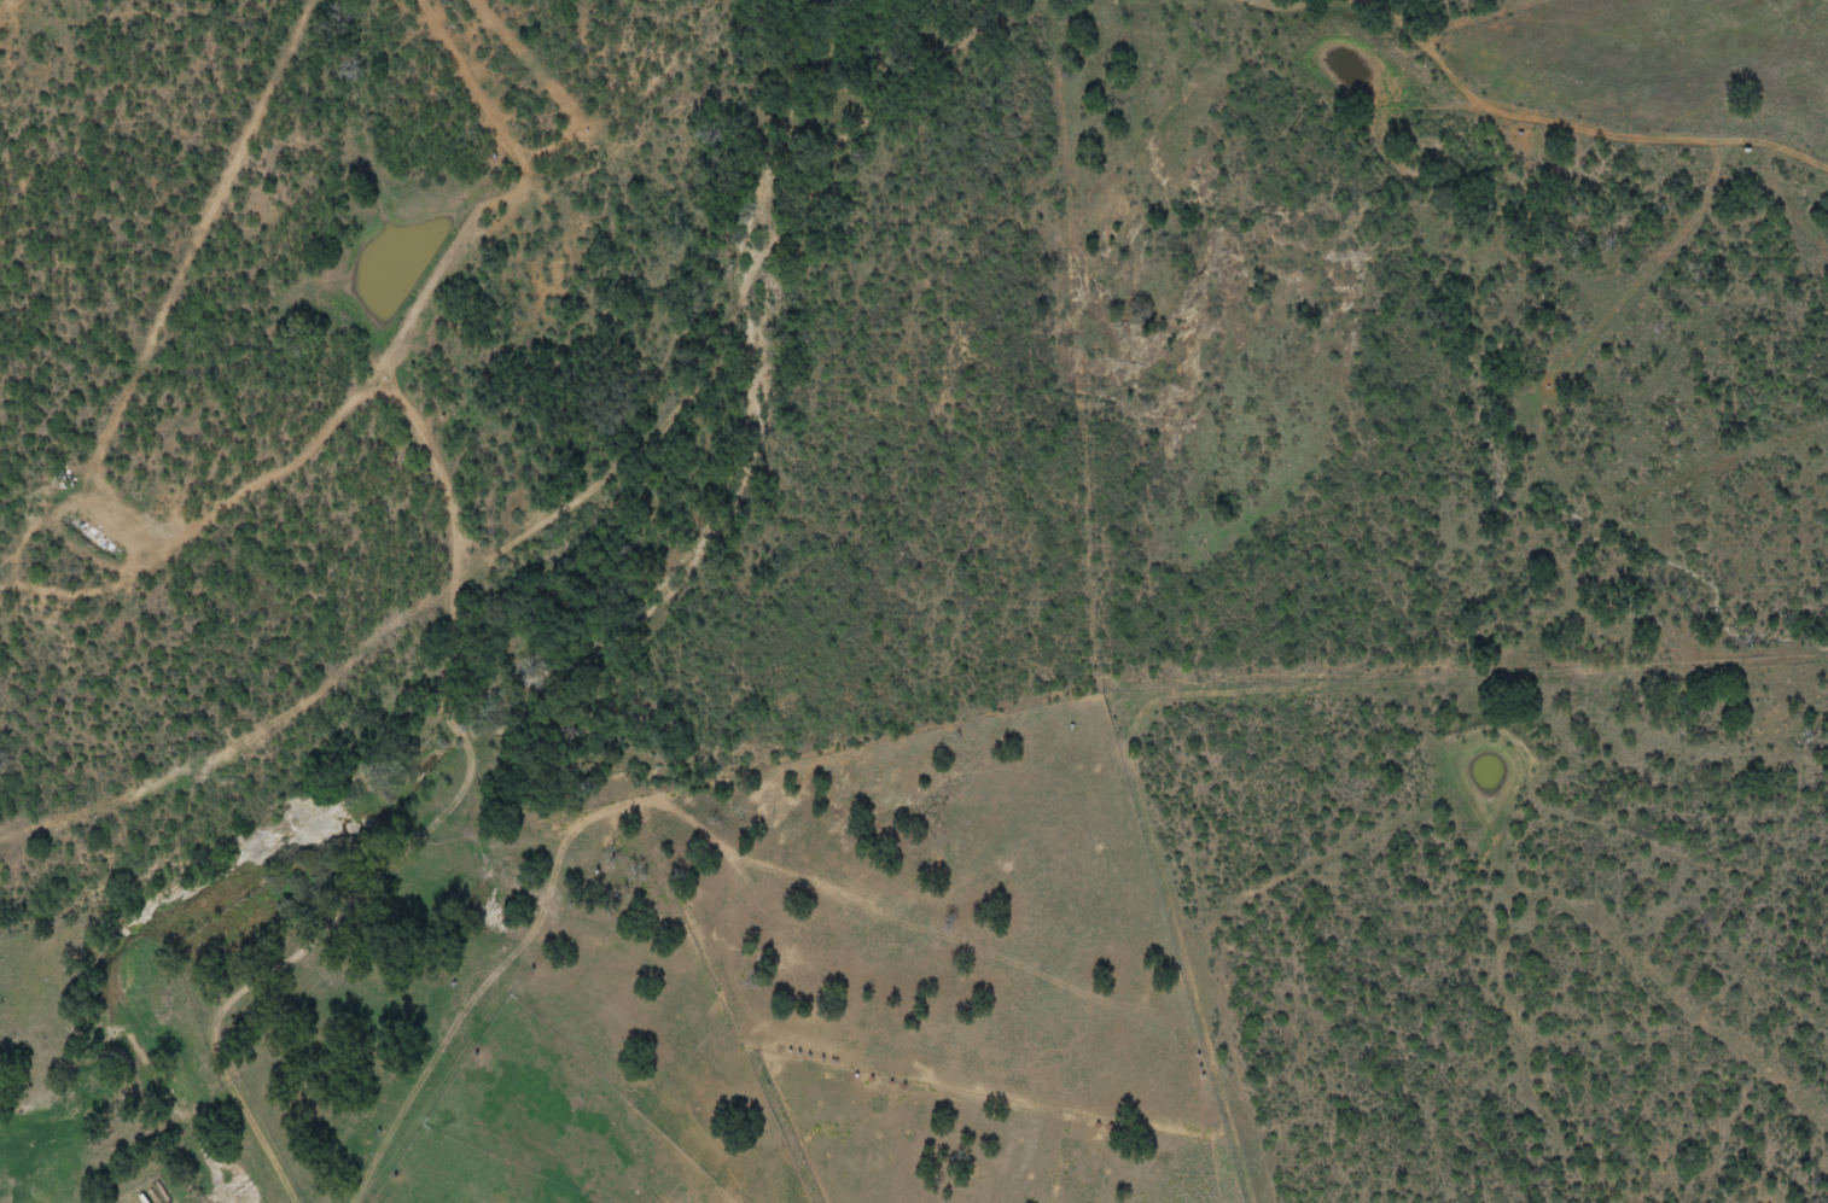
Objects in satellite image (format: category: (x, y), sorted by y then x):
road: (750, 285)

